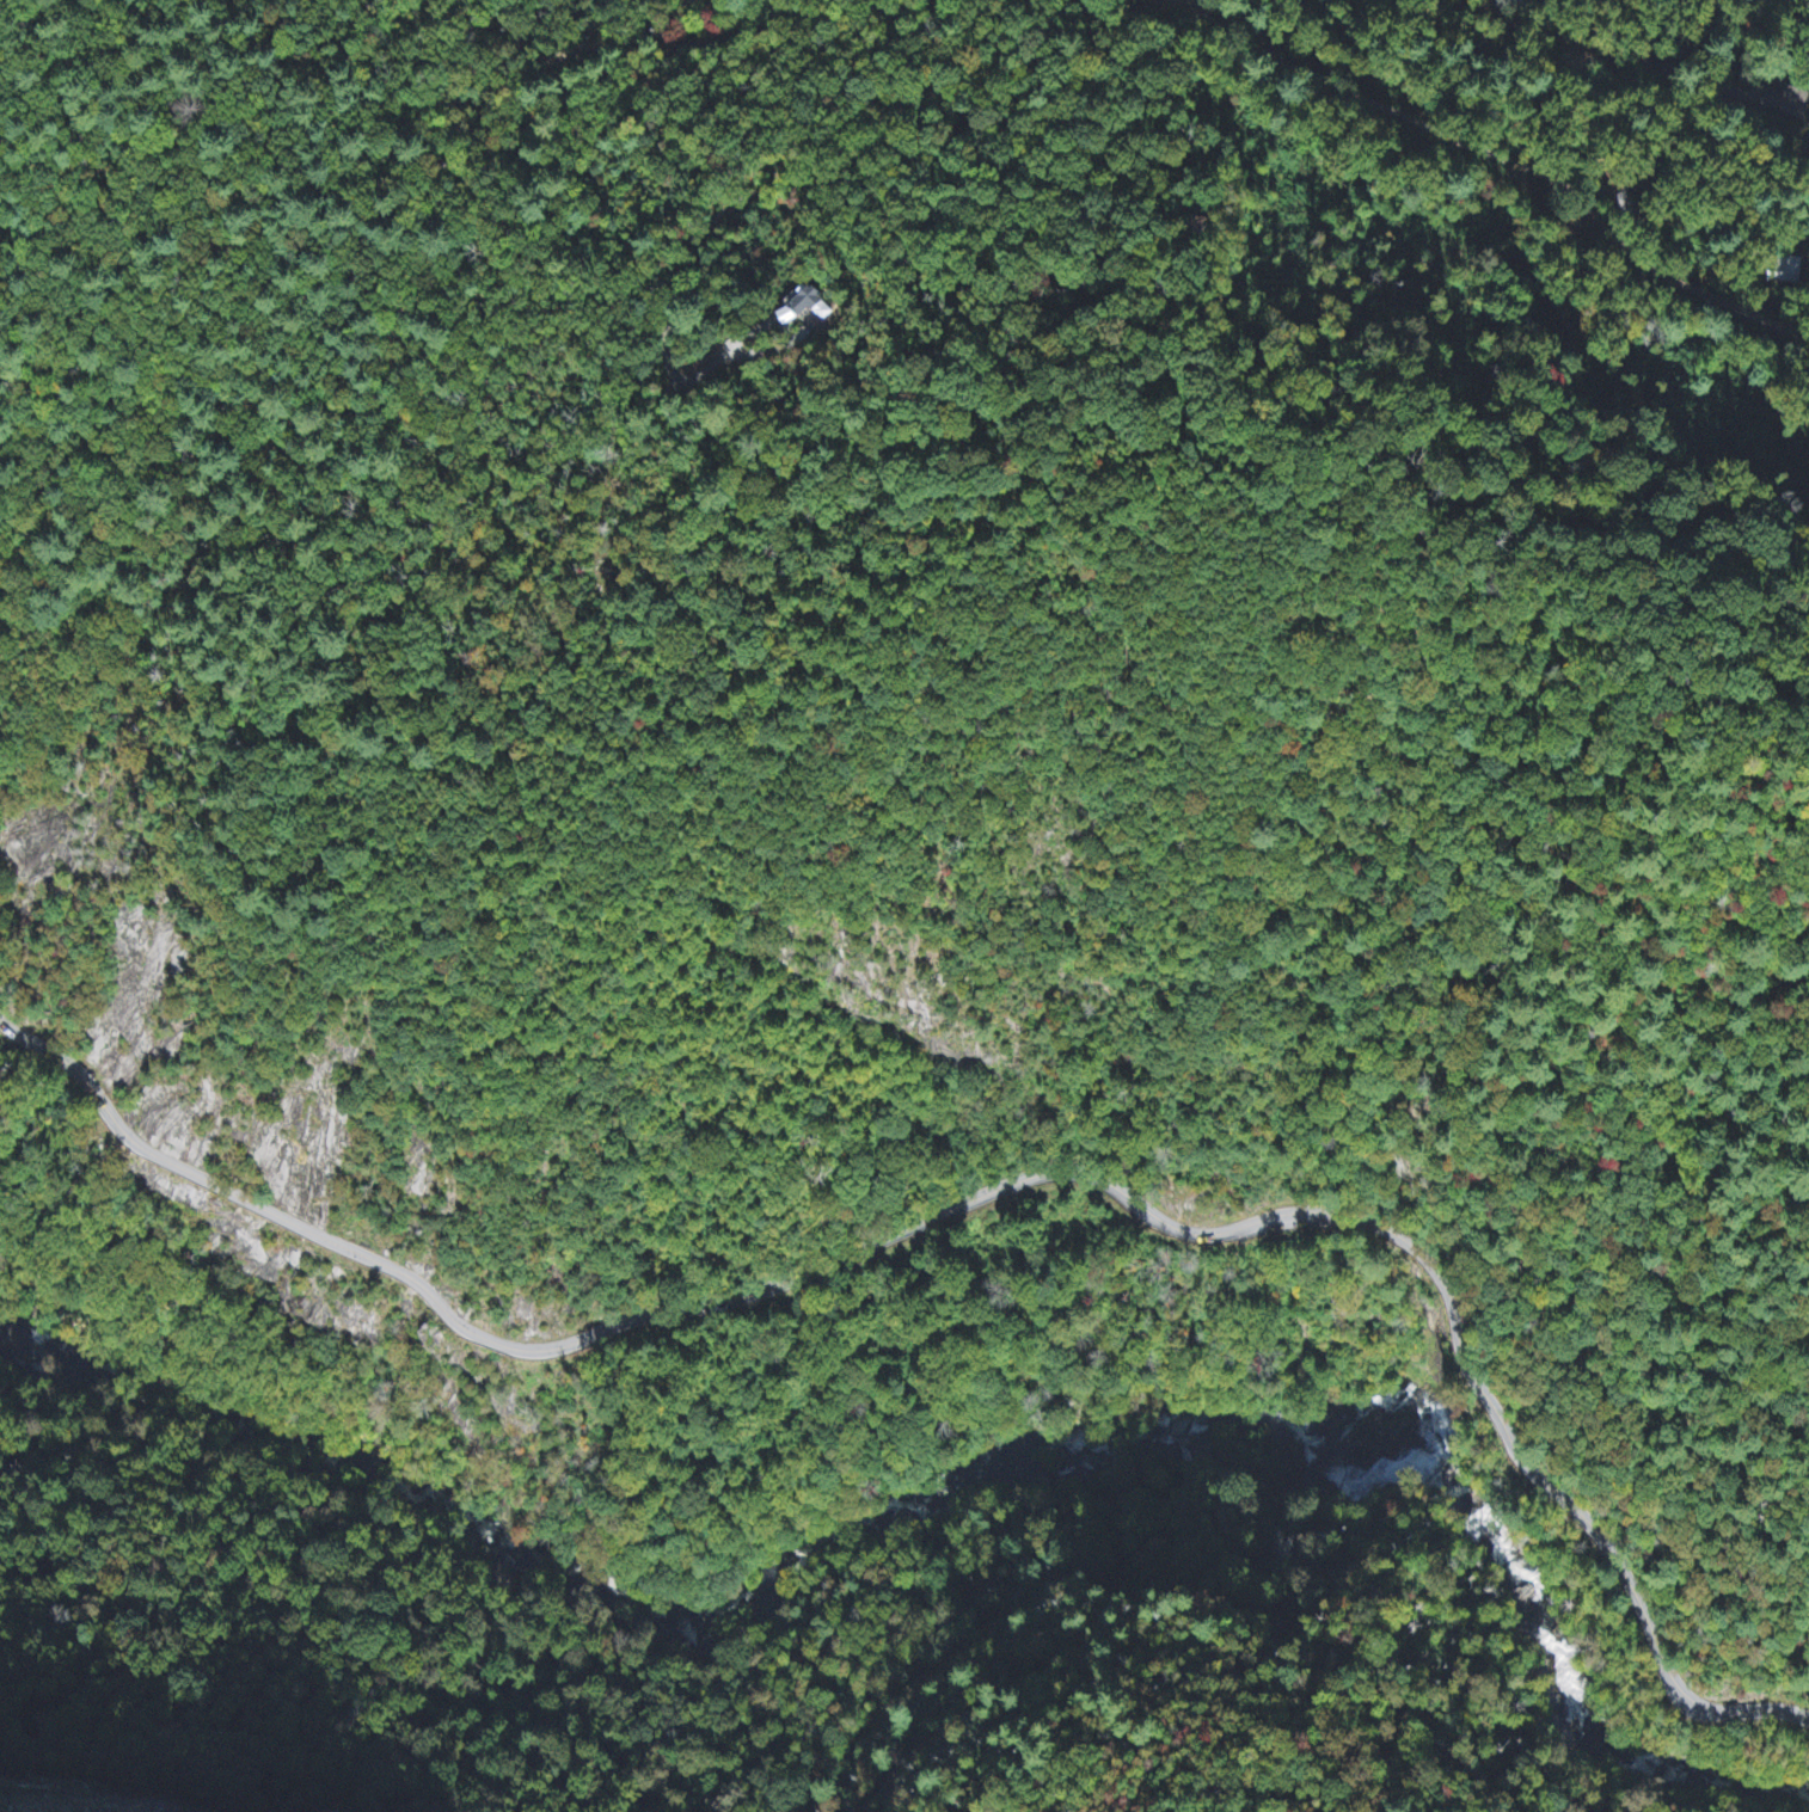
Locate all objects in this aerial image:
road: (584, 48)
road: (1635, 59)
road: (848, 131)
road: (1504, 159)
road: (983, 1197)
parking lot: (1139, 1217)
river: (971, 1448)

